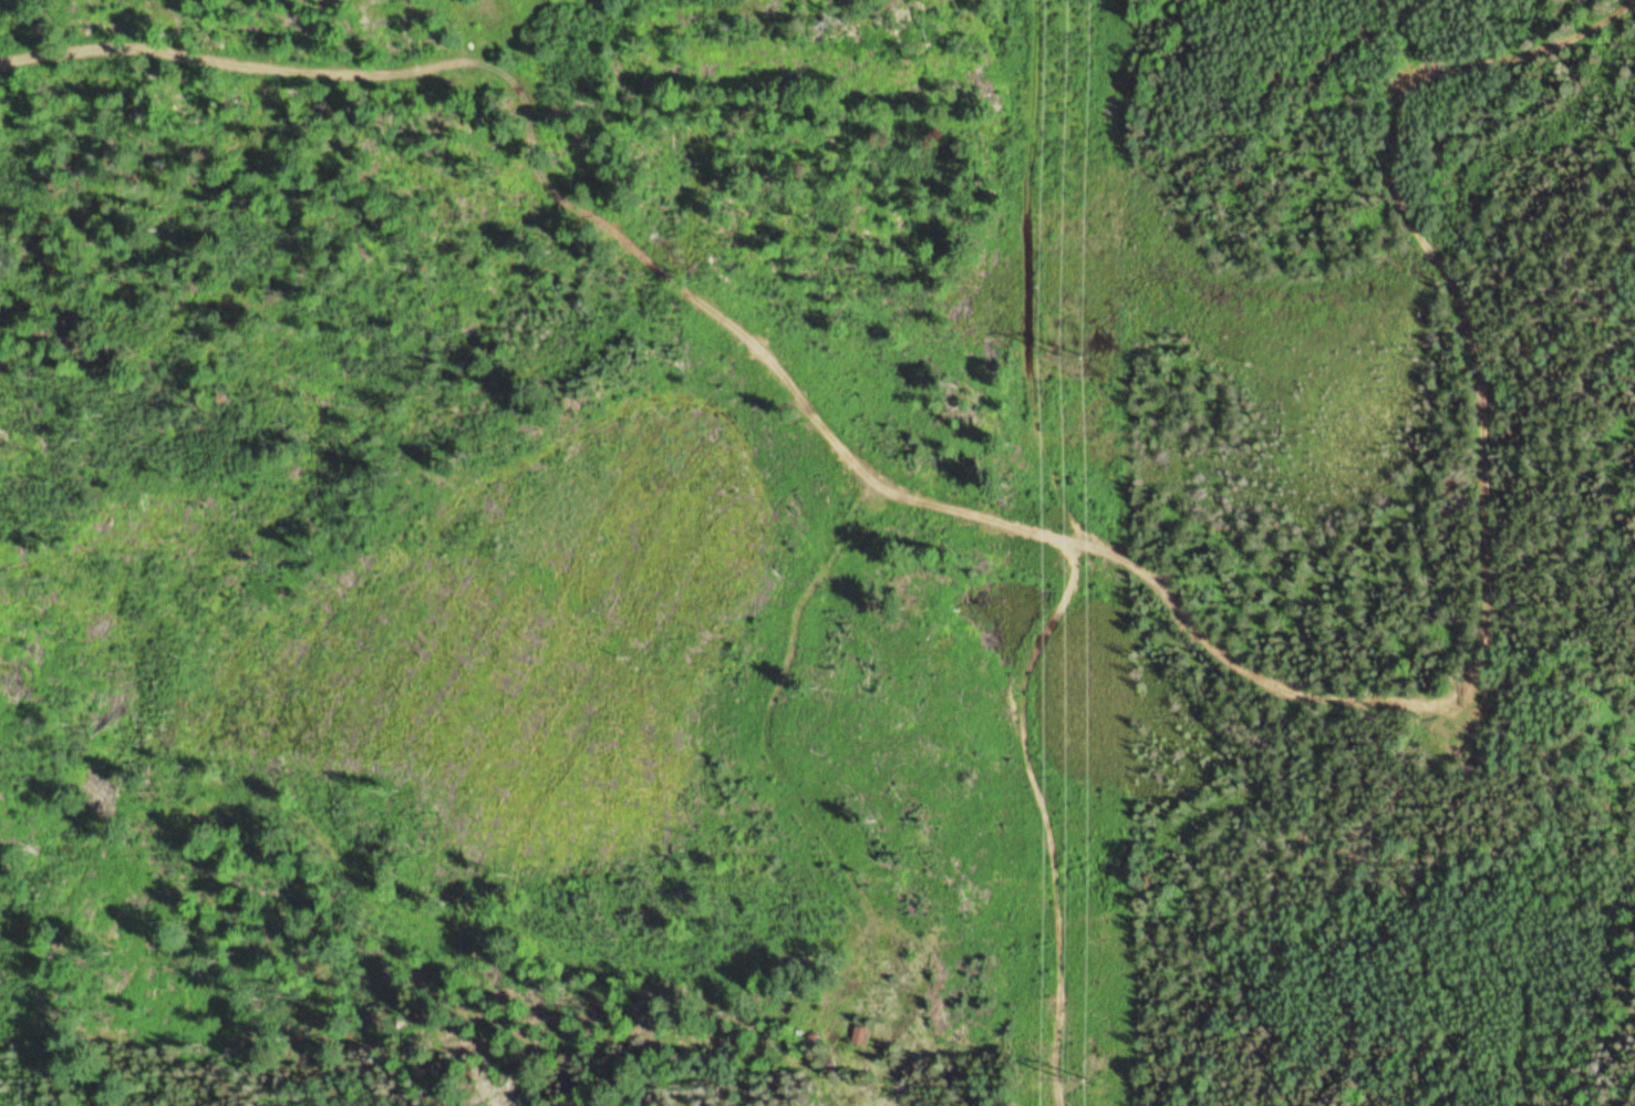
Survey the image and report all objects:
road: (266, 54)
power tower: (1082, 352)
road: (1399, 697)
building: (859, 1034)
power tower: (1074, 1078)

